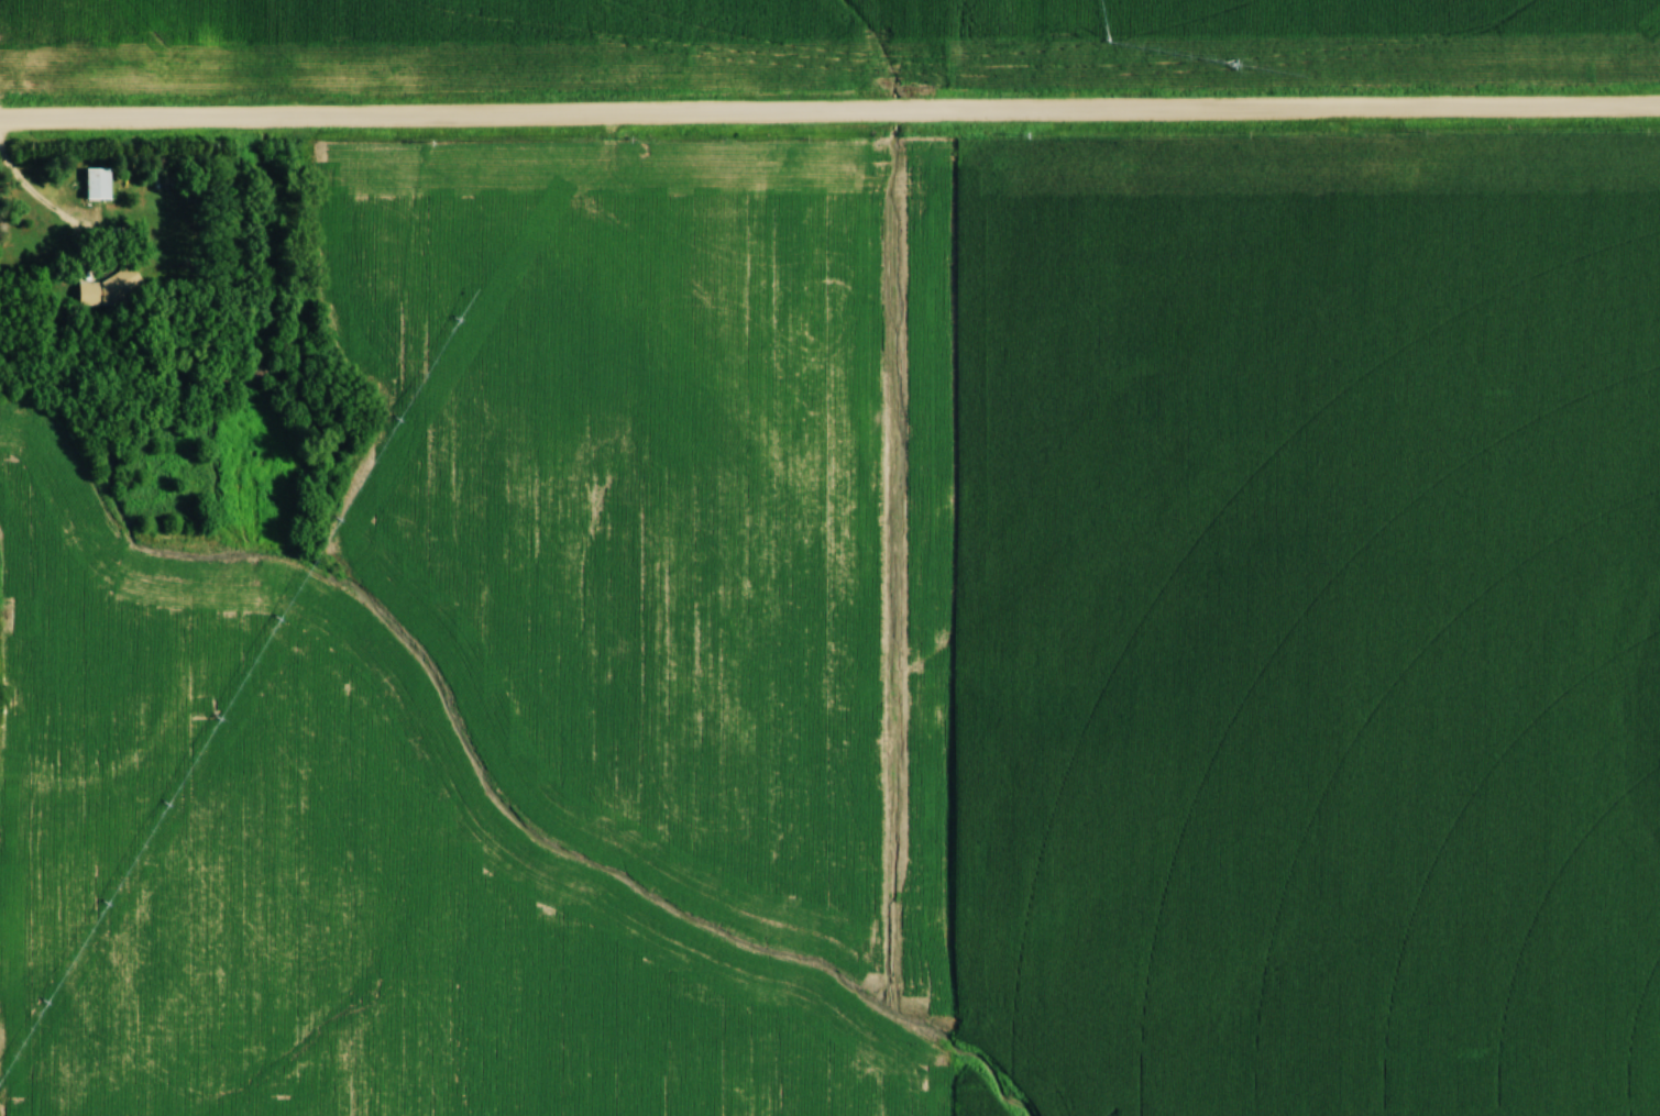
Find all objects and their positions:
road: (829, 113)
building: (101, 185)
road: (41, 205)
building: (118, 288)

